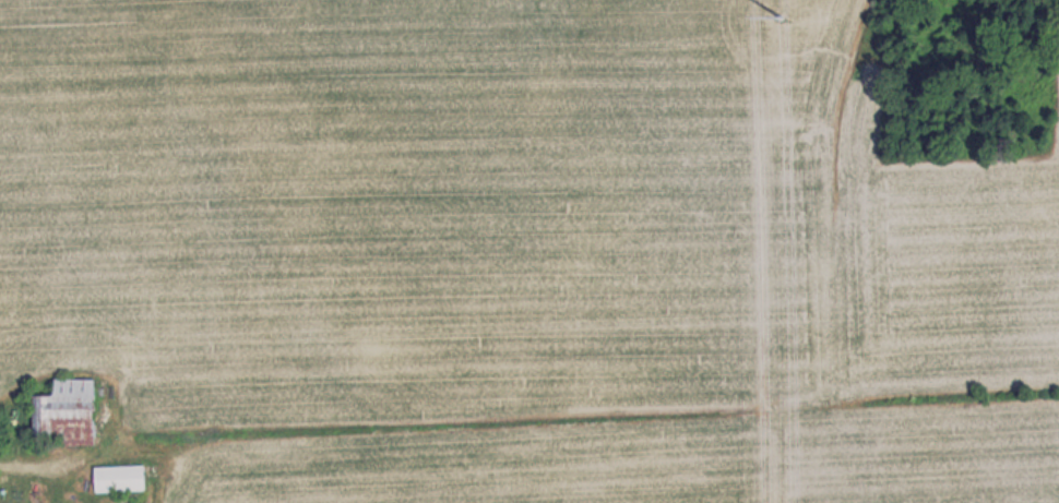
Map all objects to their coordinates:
power tower: (777, 7)
building: (62, 411)
building: (117, 478)

